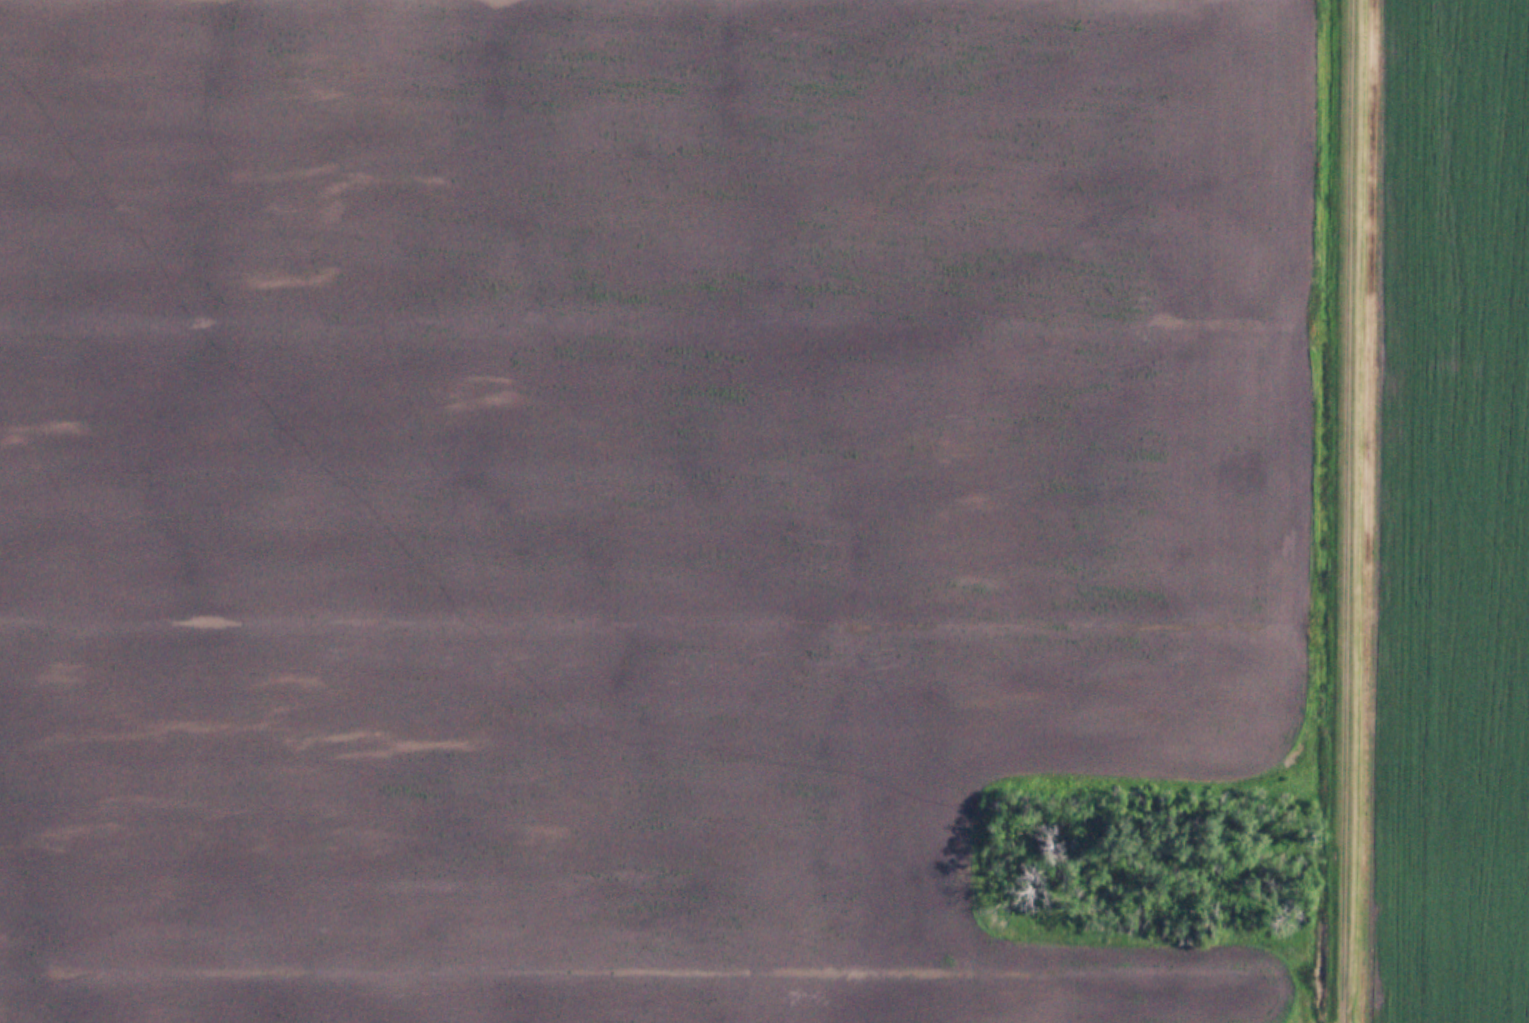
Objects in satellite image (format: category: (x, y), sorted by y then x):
road: (1347, 511)

